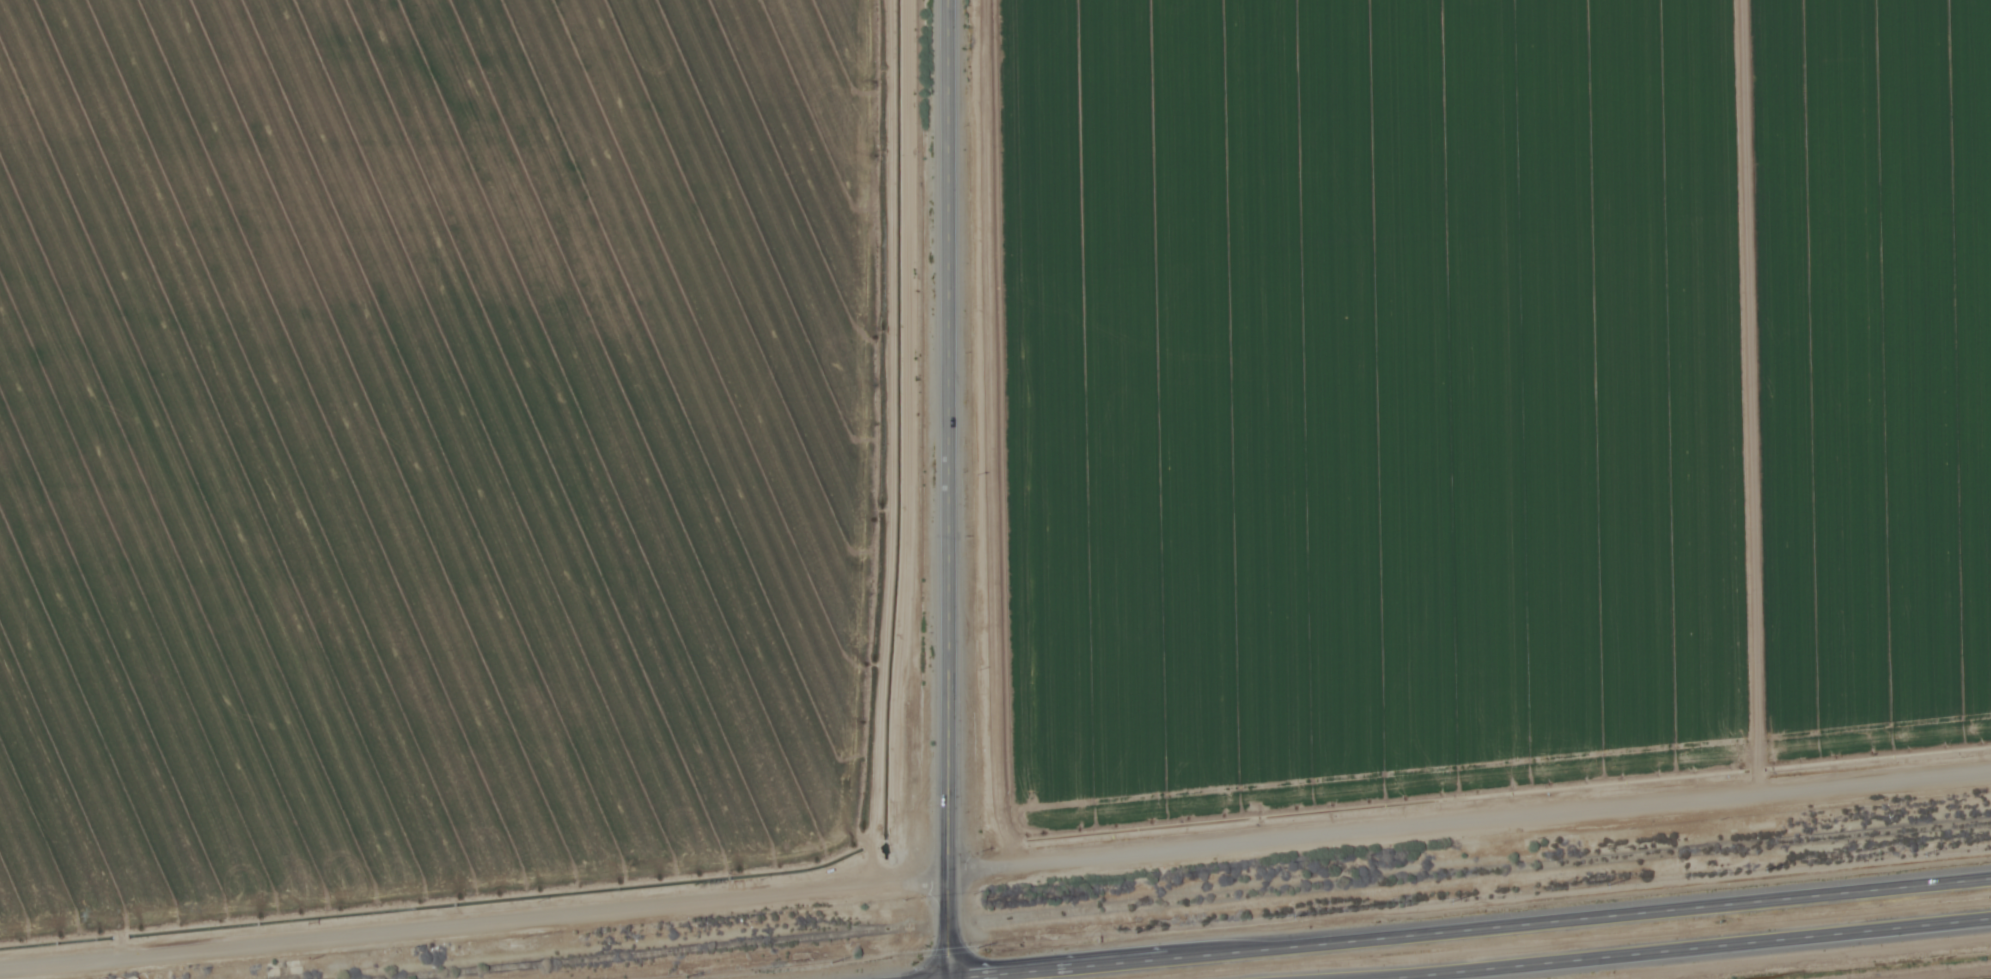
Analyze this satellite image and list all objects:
crop: (1872, 370)
crop: (1368, 399)
crop: (430, 446)
road: (945, 486)
road: (1467, 822)
road: (472, 922)
road: (1471, 924)
road: (1669, 948)
road: (921, 976)
road: (952, 976)
crop: (1975, 977)

